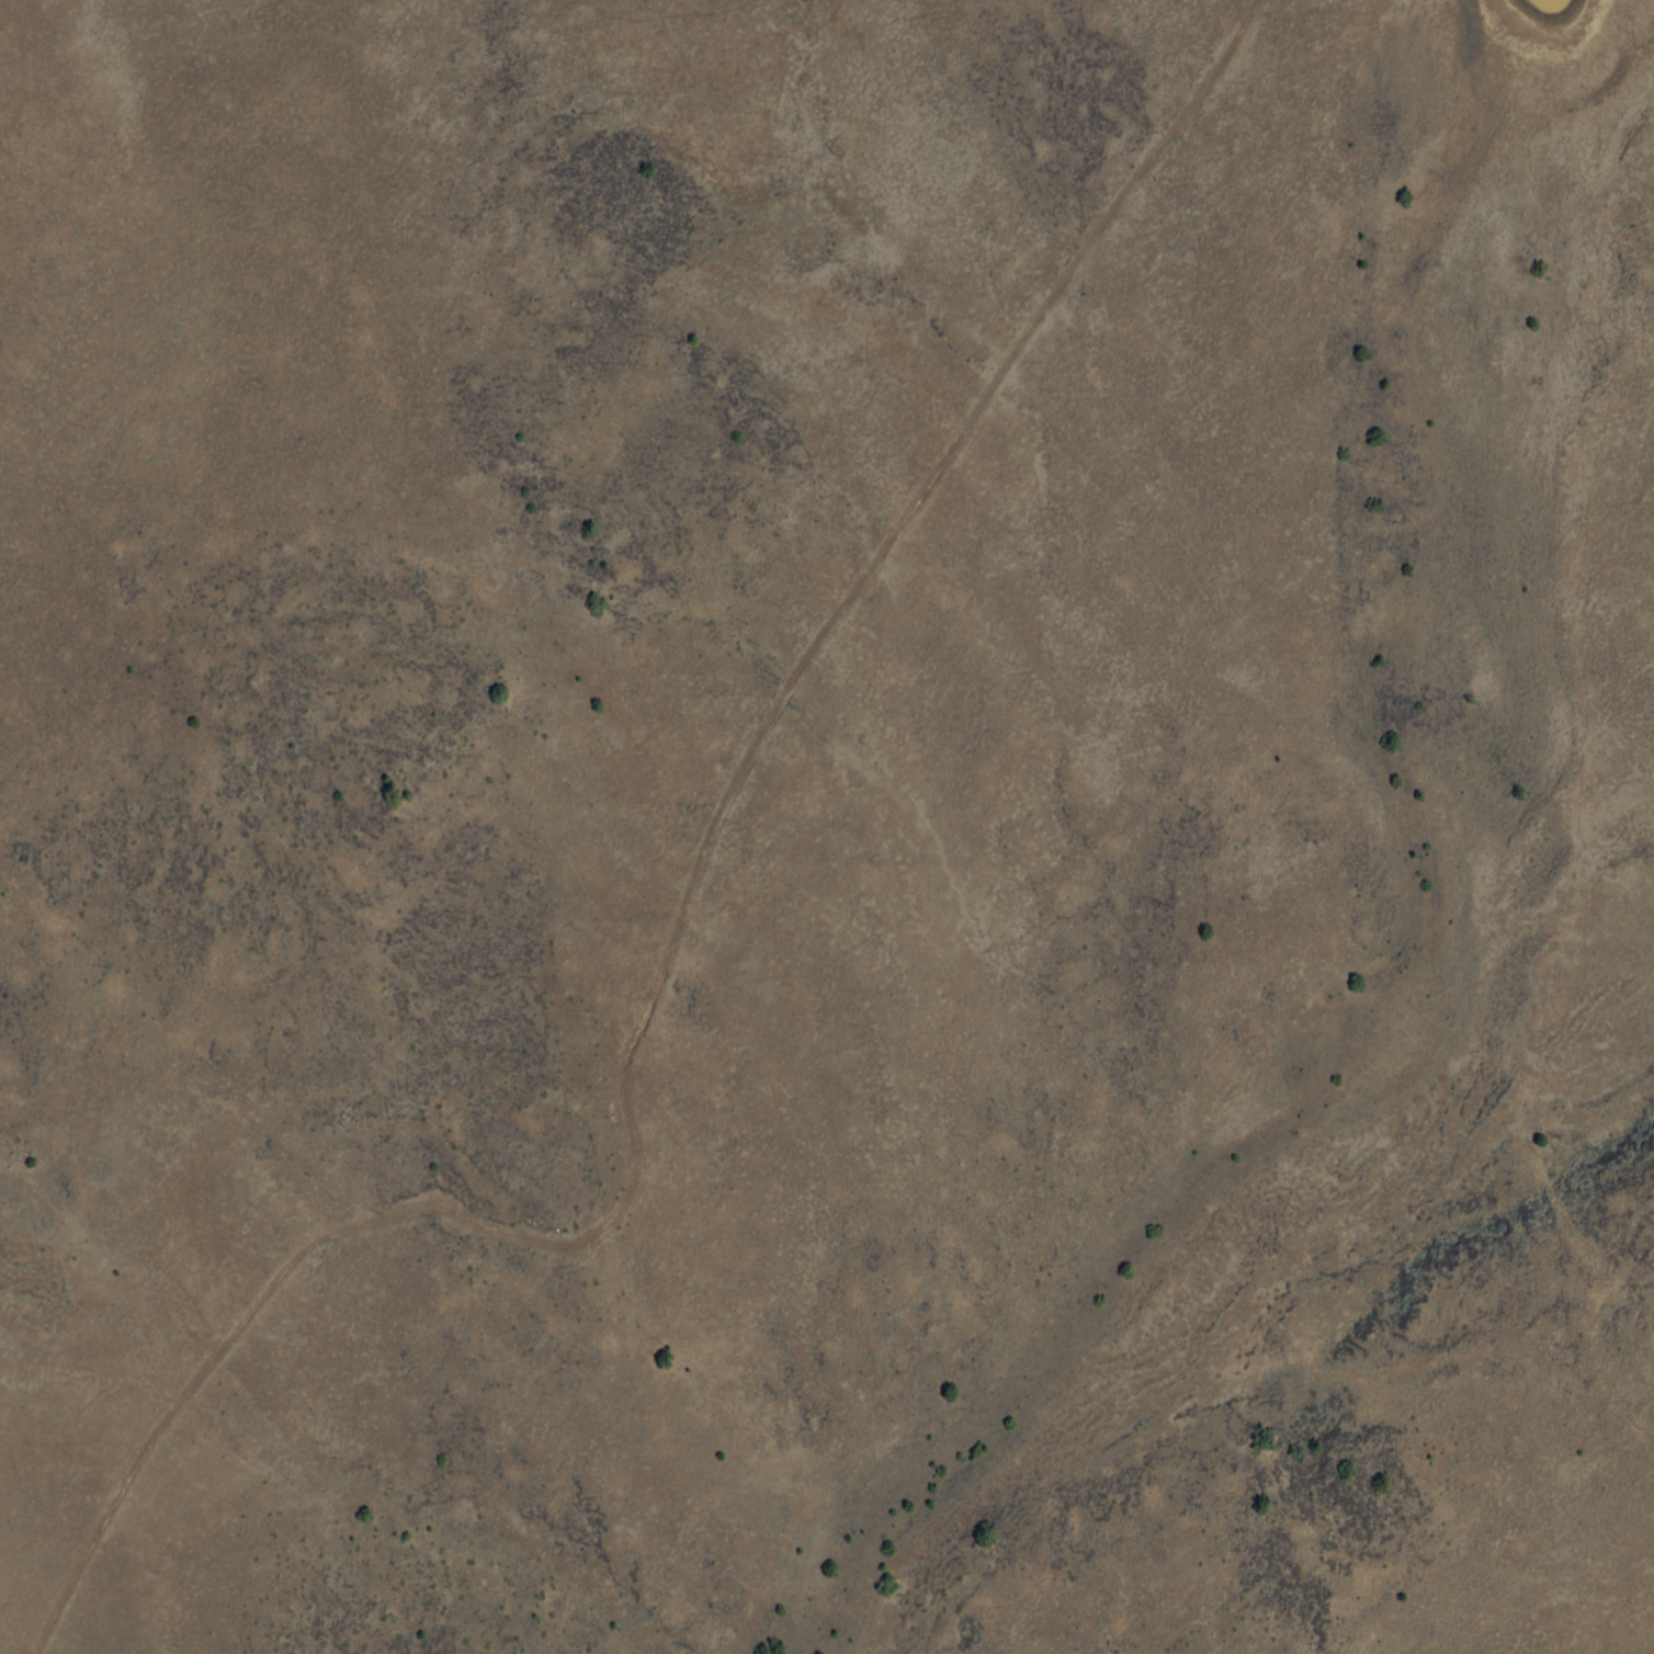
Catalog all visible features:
road: (689, 940)

